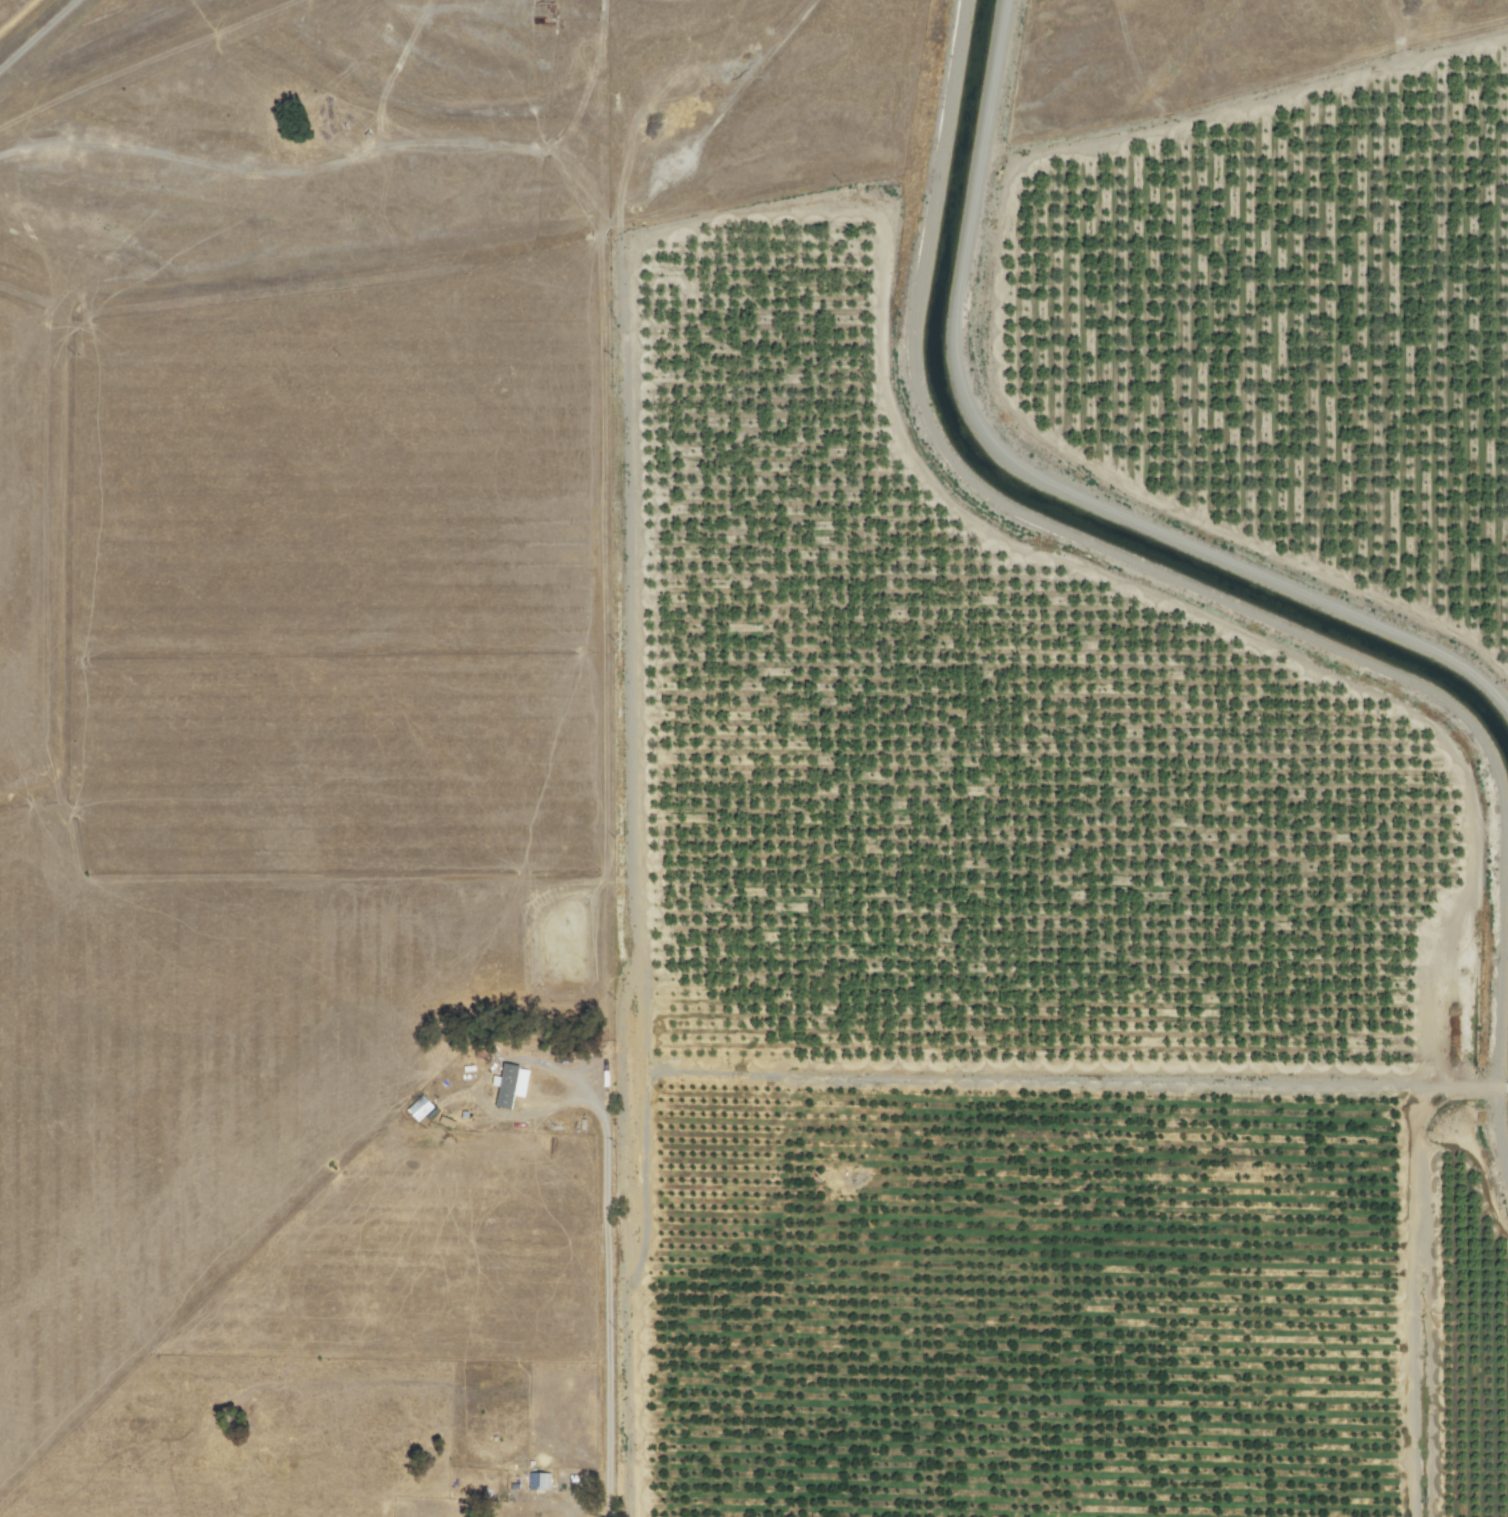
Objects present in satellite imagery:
road: (478, 1081)
building: (510, 1085)
building: (446, 1122)
road: (605, 1299)
building: (538, 1481)

